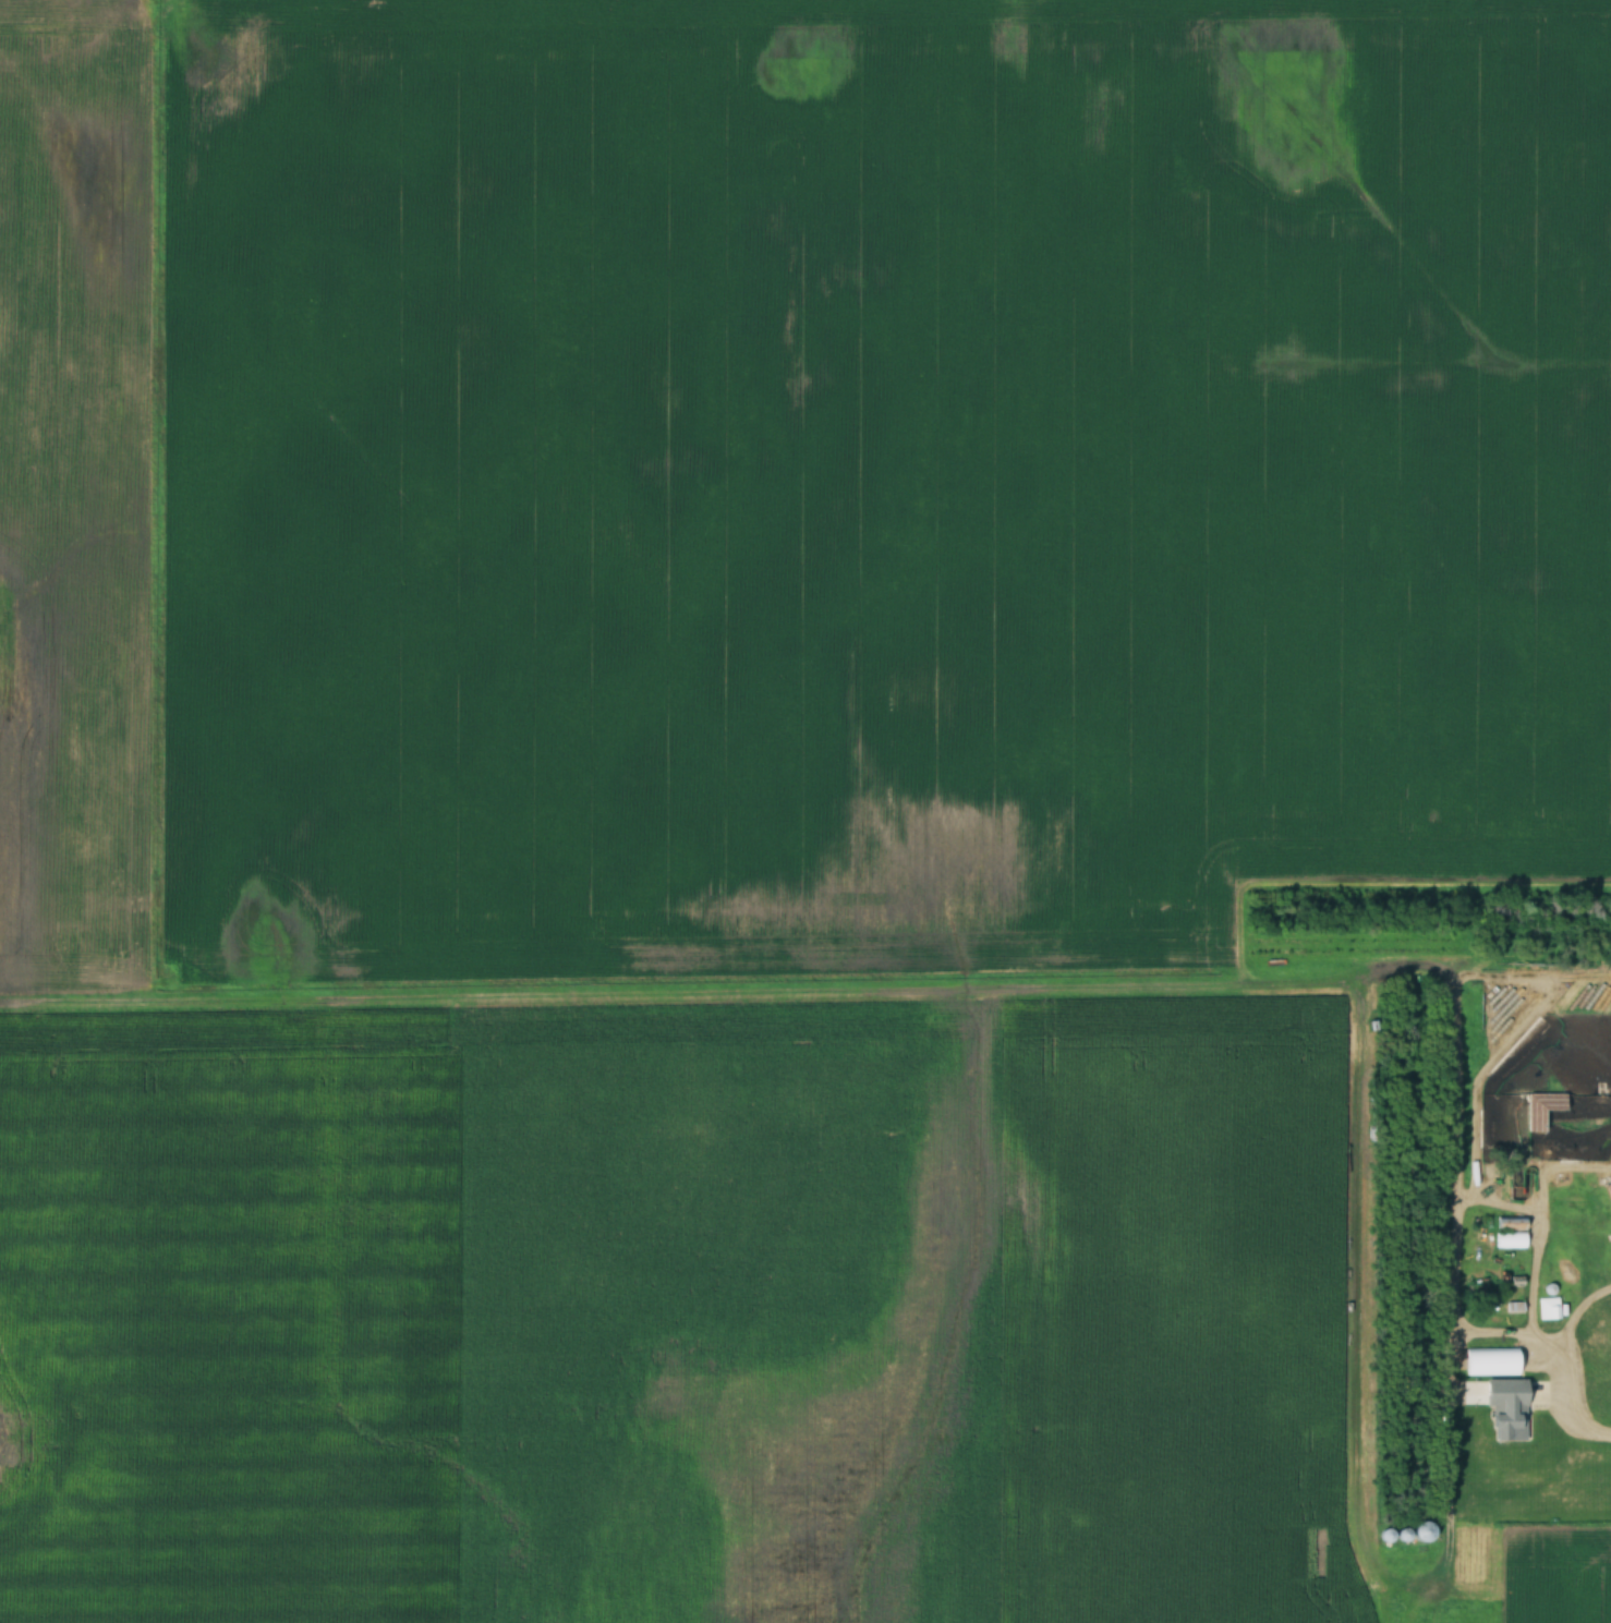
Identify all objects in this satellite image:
building: (1533, 1111)
building: (1510, 1231)
road: (1534, 1235)
building: (1548, 1308)
road: (1571, 1316)
building: (1491, 1360)
building: (1506, 1408)
road: (1563, 1414)
building: (1422, 1530)

